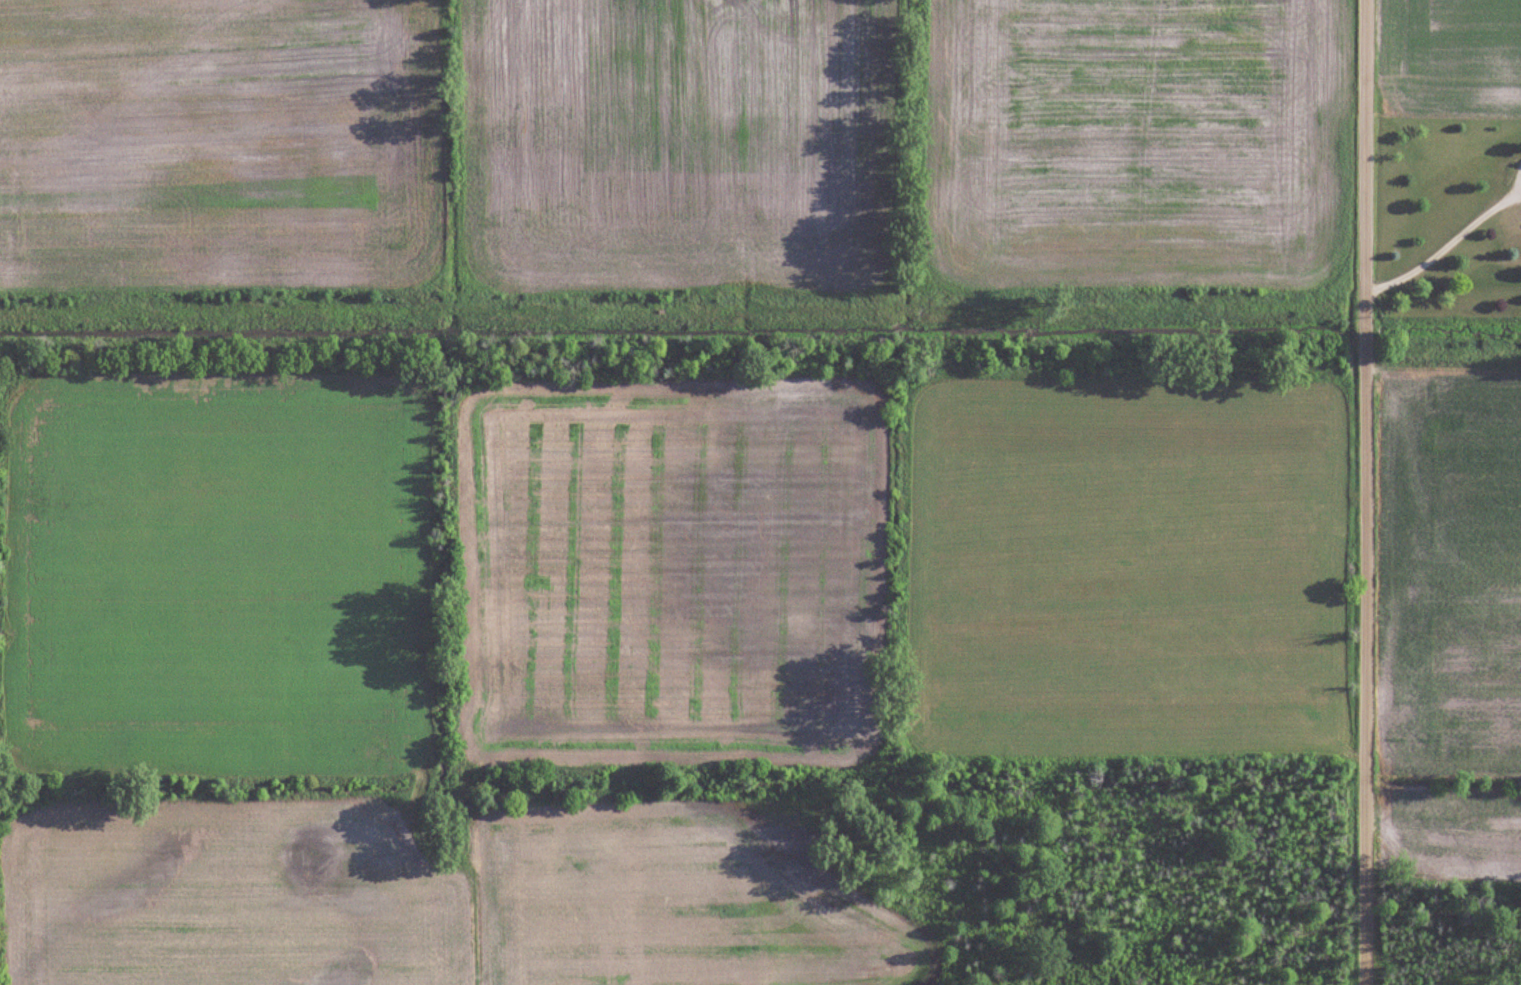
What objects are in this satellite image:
road: (1513, 179)
road: (1444, 245)
road: (1442, 315)
road: (1362, 492)

